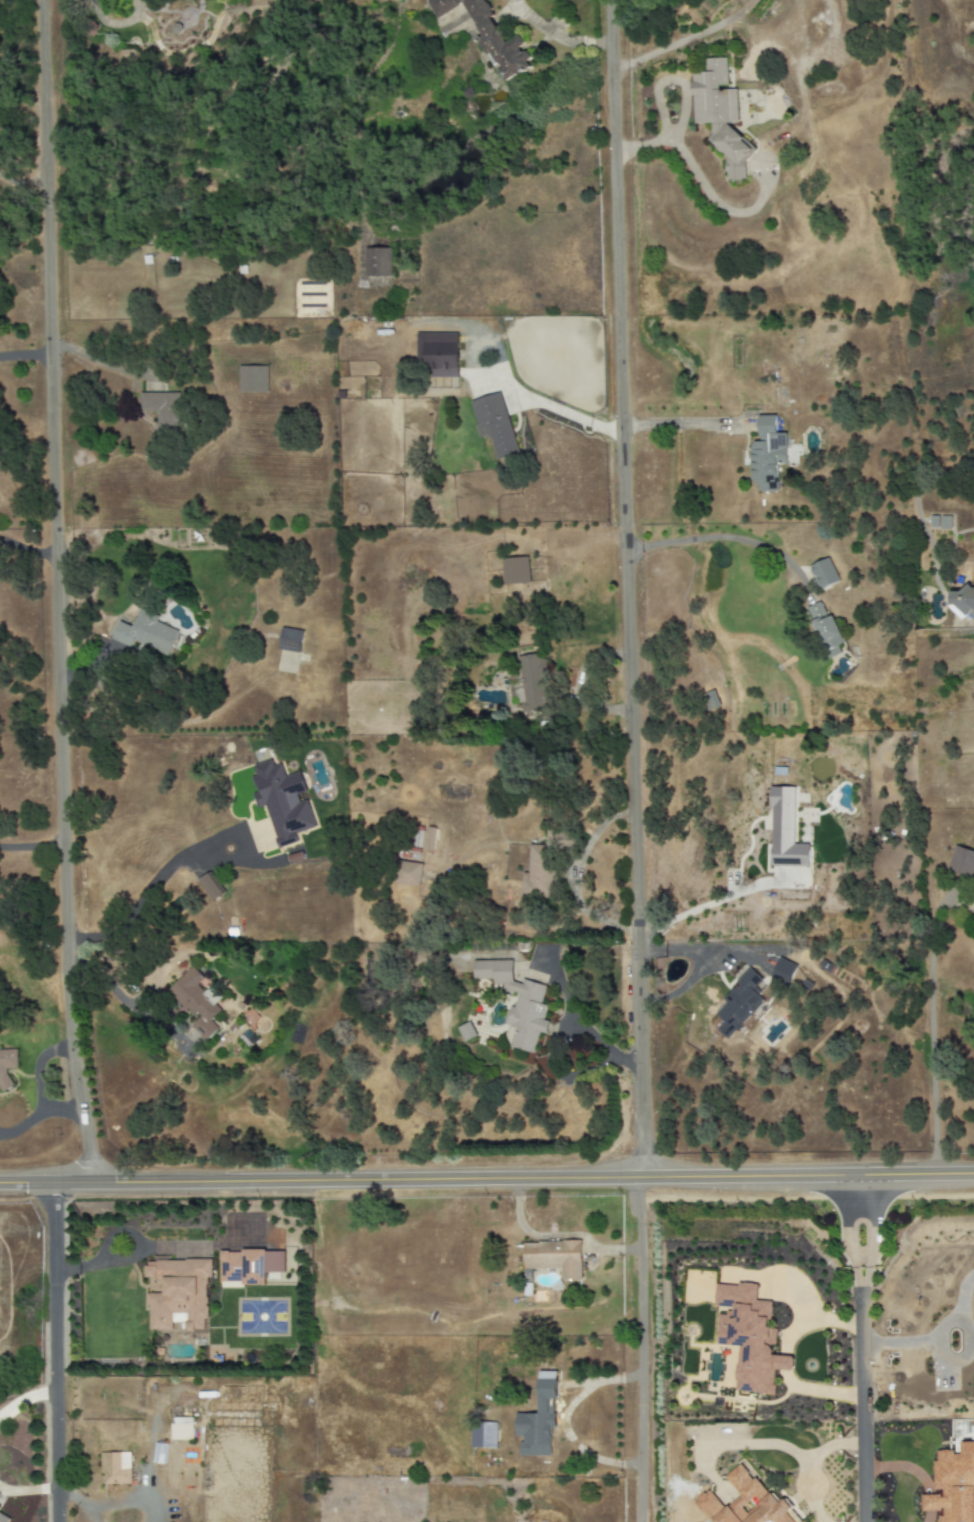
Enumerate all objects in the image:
building: (489, 37)
road: (683, 99)
building: (720, 115)
road: (660, 116)
road: (702, 187)
building: (377, 262)
building: (438, 353)
road: (24, 355)
road: (95, 361)
road: (504, 375)
building: (253, 379)
building: (163, 411)
building: (495, 425)
road: (674, 426)
building: (767, 455)
building: (940, 522)
road: (728, 538)
building: (515, 571)
building: (824, 574)
road: (626, 588)
road: (55, 597)
building: (963, 603)
building: (825, 629)
building: (146, 633)
building: (290, 640)
road: (578, 686)
building: (709, 701)
building: (282, 802)
building: (785, 830)
building: (962, 862)
building: (408, 873)
building: (538, 873)
road: (148, 884)
building: (211, 887)
road: (702, 907)
building: (784, 970)
building: (196, 1002)
building: (517, 1003)
building: (738, 1004)
building: (466, 1032)
road: (555, 1041)
road: (930, 1059)
building: (6, 1067)
road: (37, 1088)
road: (23, 1127)
road: (487, 1179)
road: (114, 1233)
building: (554, 1258)
building: (249, 1266)
building: (178, 1294)
road: (948, 1322)
building: (749, 1338)
road: (53, 1346)
road: (868, 1348)
road: (643, 1350)
road: (25, 1399)
building: (539, 1417)
building: (182, 1429)
building: (483, 1435)
road: (812, 1461)
building: (114, 1465)
road: (919, 1476)
building: (953, 1485)
road: (28, 1490)
road: (70, 1498)
building: (745, 1502)
road: (124, 1503)
building: (0, 1507)
road: (86, 1515)
building: (3, 1518)
building: (806, 1521)

